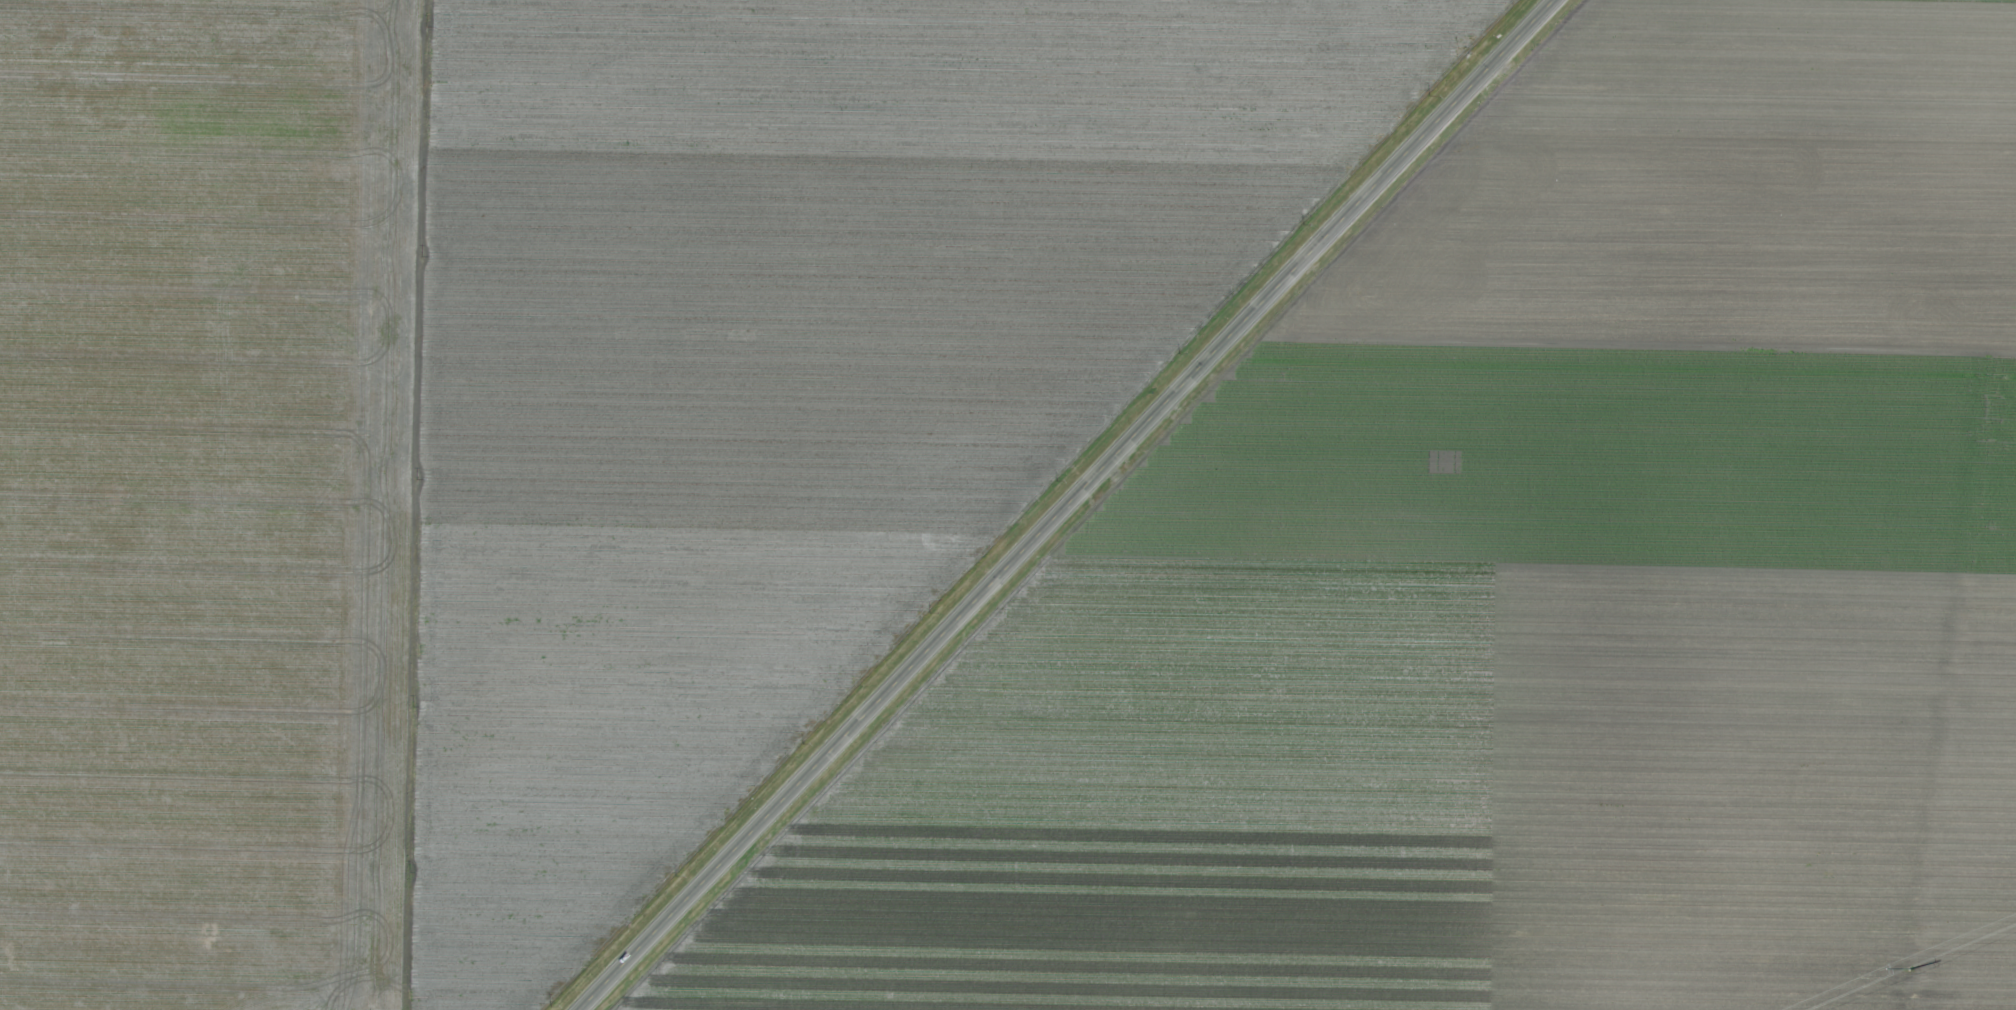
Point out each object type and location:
road: (1067, 505)
power tower: (1910, 968)

